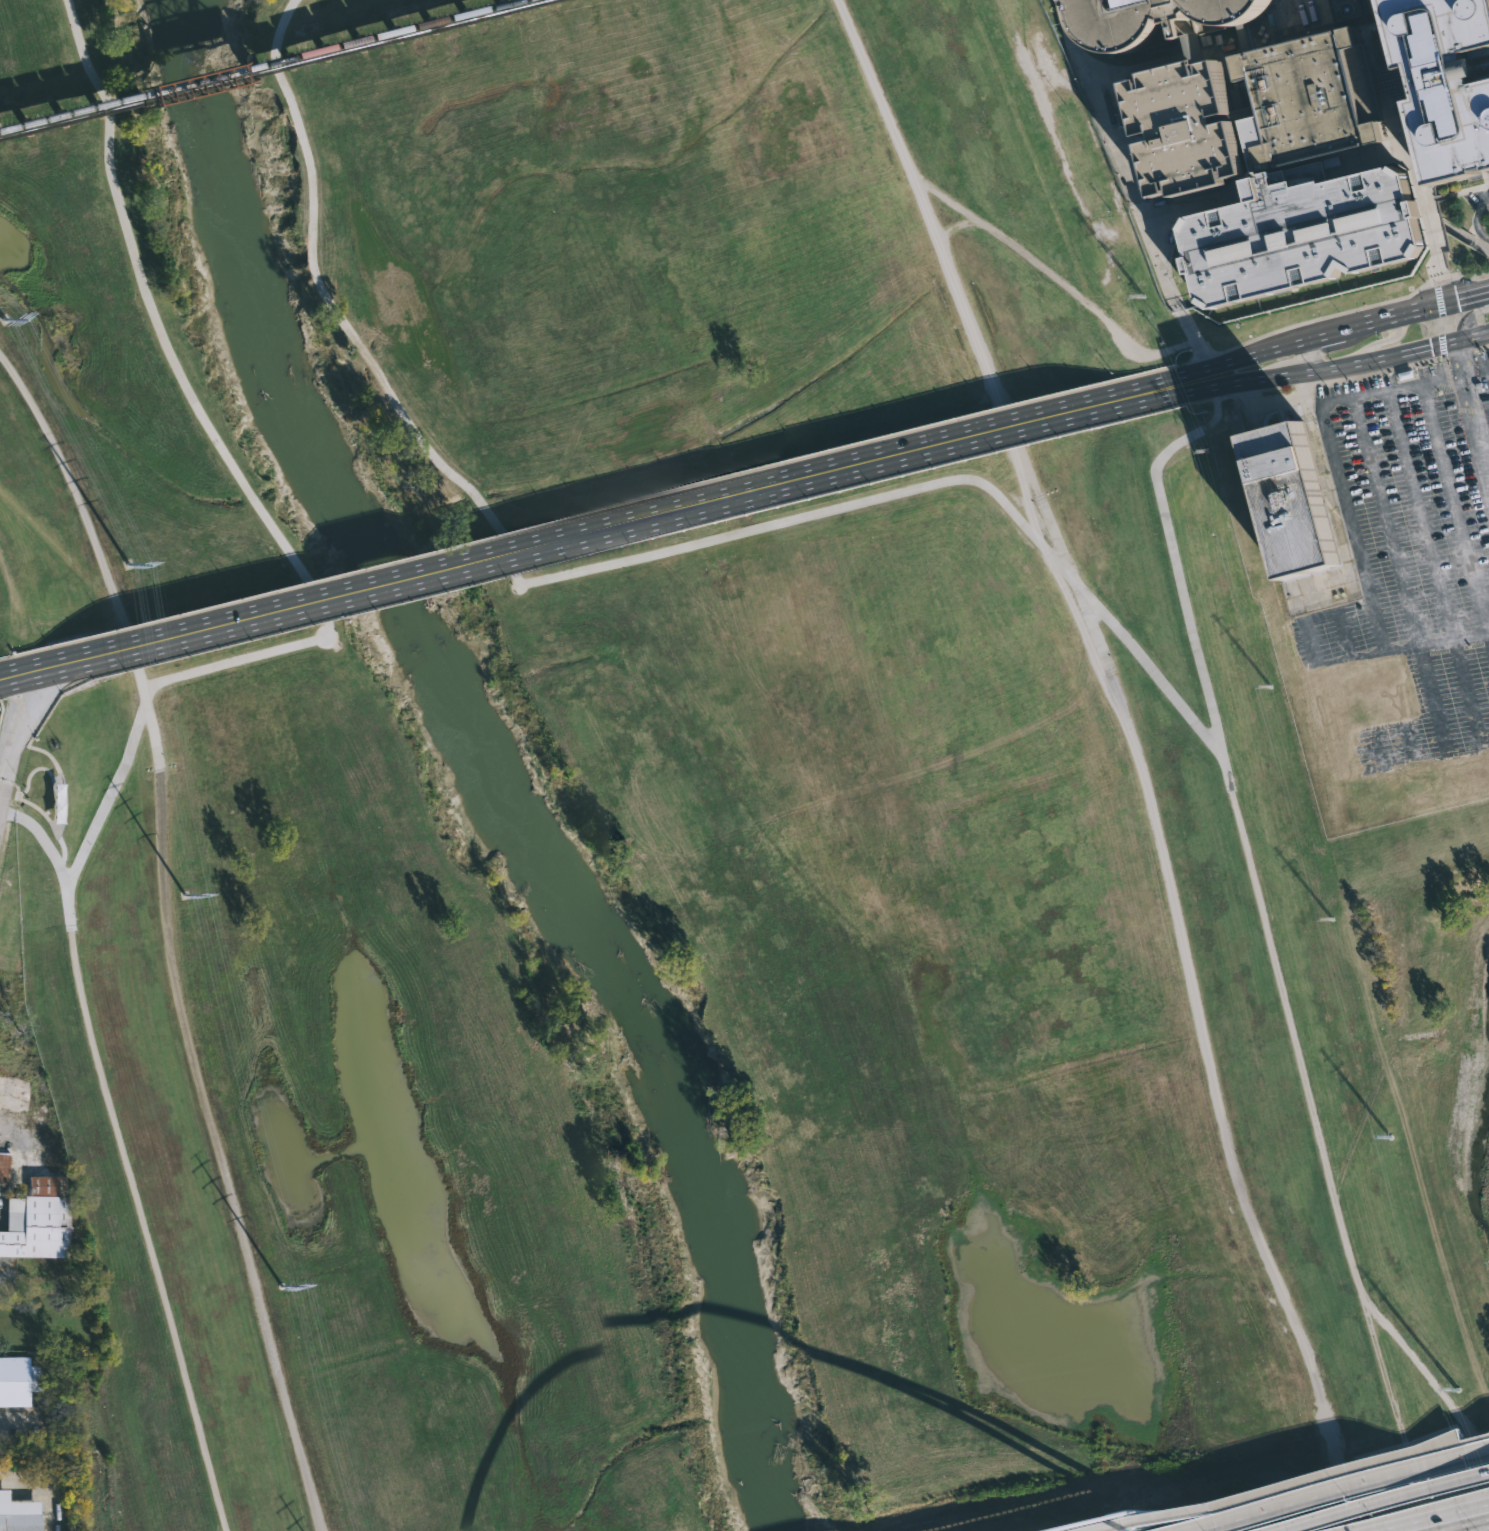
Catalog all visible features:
building: (1334, 0)
river: (185, 7)
building: (1159, 20)
building: (1197, 49)
railway: (253, 63)
railway: (271, 68)
building: (1435, 87)
building: (1300, 113)
building: (1162, 136)
road: (1125, 193)
road: (1476, 221)
road: (955, 225)
building: (1294, 240)
road: (940, 247)
road: (1053, 276)
road: (1434, 286)
power tower: (1146, 298)
road: (1394, 312)
road: (1469, 316)
power tower: (3, 319)
road: (1382, 342)
road: (1304, 354)
road: (1260, 355)
road: (1355, 361)
road: (1200, 380)
road: (1473, 399)
road: (1200, 430)
road: (1331, 446)
power tower: (1207, 453)
road: (71, 481)
building: (1292, 501)
road: (1456, 508)
parking lot: (1407, 514)
road: (1421, 515)
road: (1387, 521)
road: (617, 525)
road: (284, 546)
road: (65, 551)
power tower: (126, 563)
road: (613, 564)
road: (1075, 584)
road: (1303, 620)
road: (1195, 633)
road: (1418, 644)
road: (27, 671)
power tower: (1270, 689)
road: (145, 691)
road: (23, 734)
river: (497, 760)
park: (685, 814)
power tower: (183, 894)
road: (66, 902)
power tower: (1330, 920)
road: (1216, 1105)
power tower: (1390, 1135)
road: (219, 1152)
road: (1328, 1162)
building: (4, 1167)
building: (39, 1221)
power tower: (282, 1286)
road: (1426, 1375)
building: (18, 1380)
power tower: (1459, 1388)
road: (10, 1423)
road: (1261, 1486)
road: (1330, 1486)
road: (1385, 1499)
road: (1482, 1511)
road: (1482, 1512)
building: (19, 1514)
road: (1438, 1522)
road: (1274, 1528)

